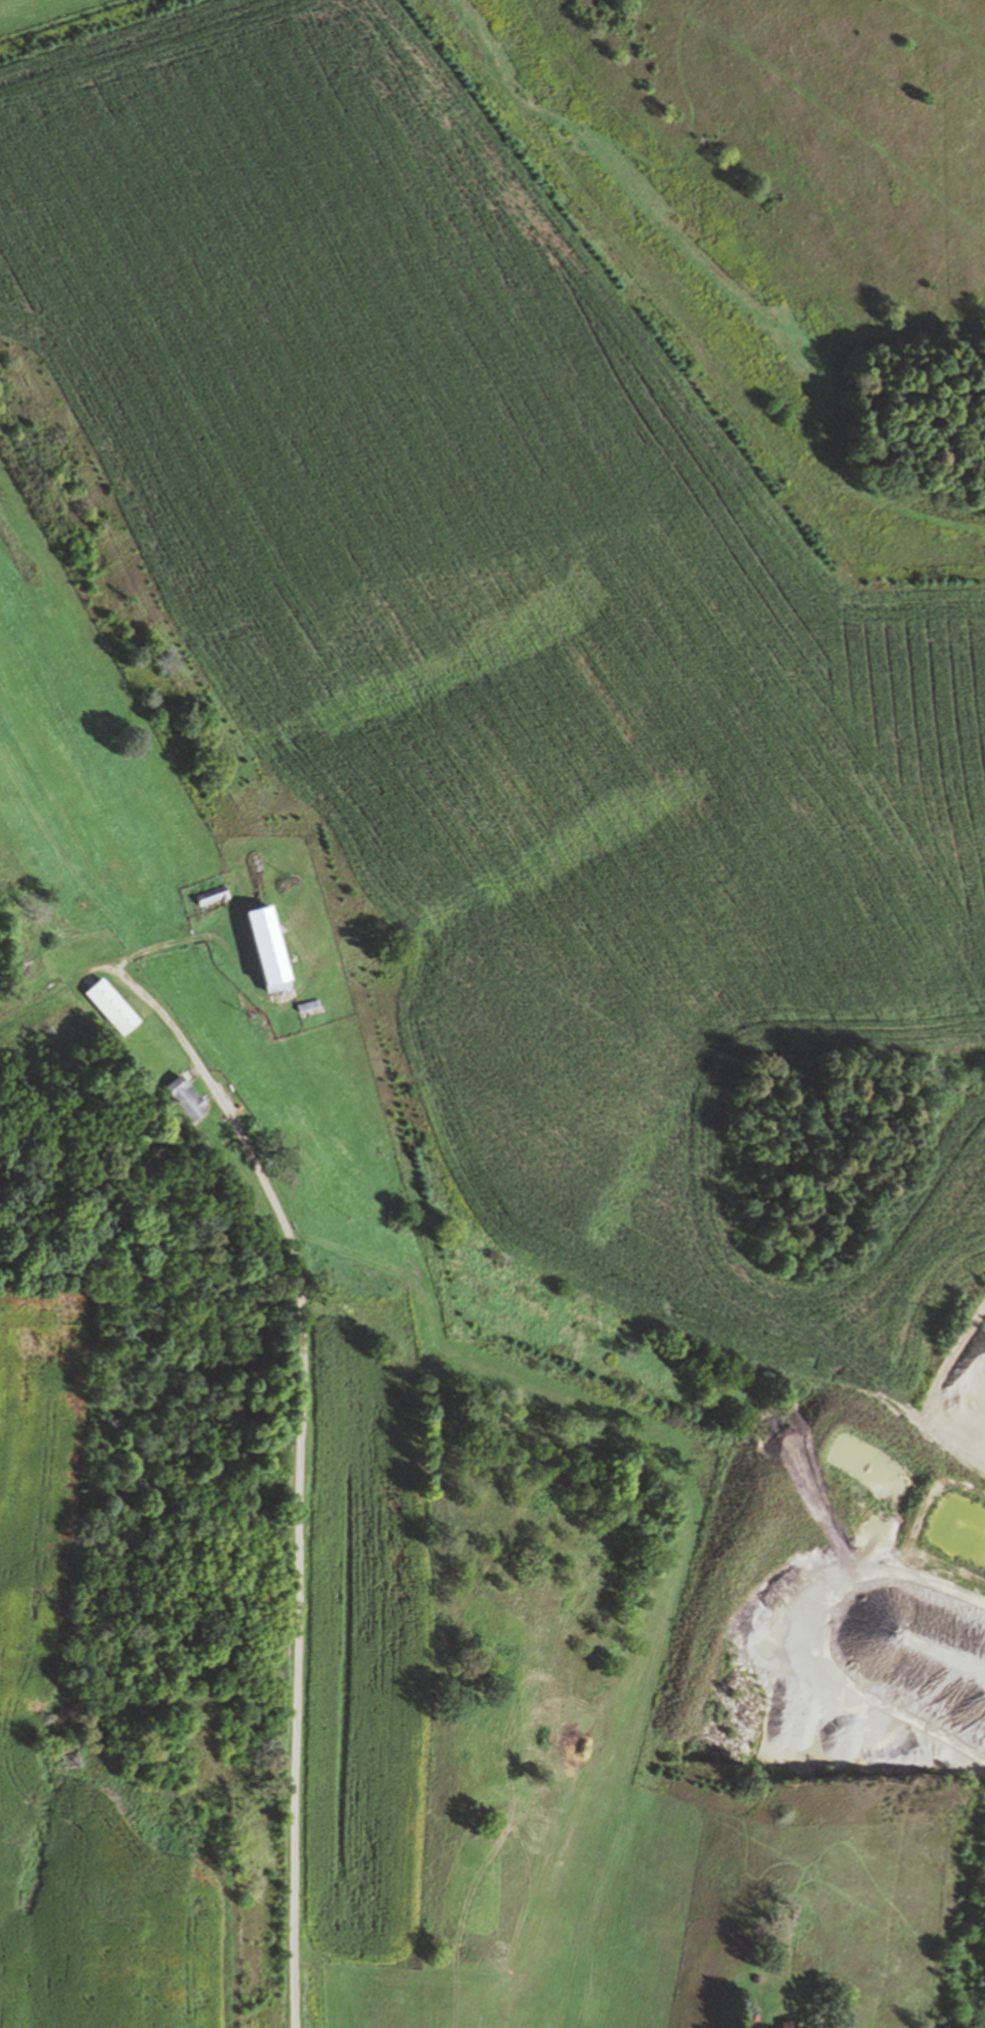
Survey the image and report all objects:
building: (210, 894)
building: (267, 949)
building: (111, 1004)
building: (185, 1096)
road: (299, 1434)
quarry: (819, 1679)
building: (786, 2025)

